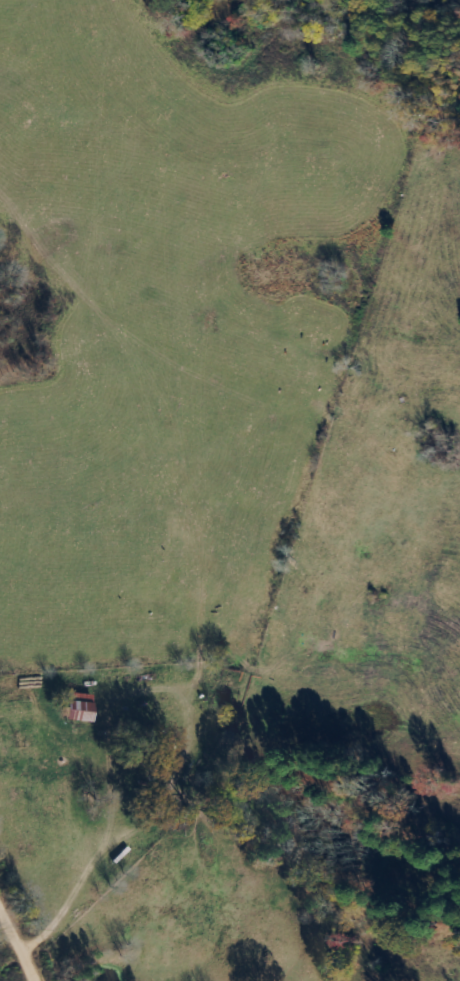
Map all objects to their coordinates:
road: (20, 938)

